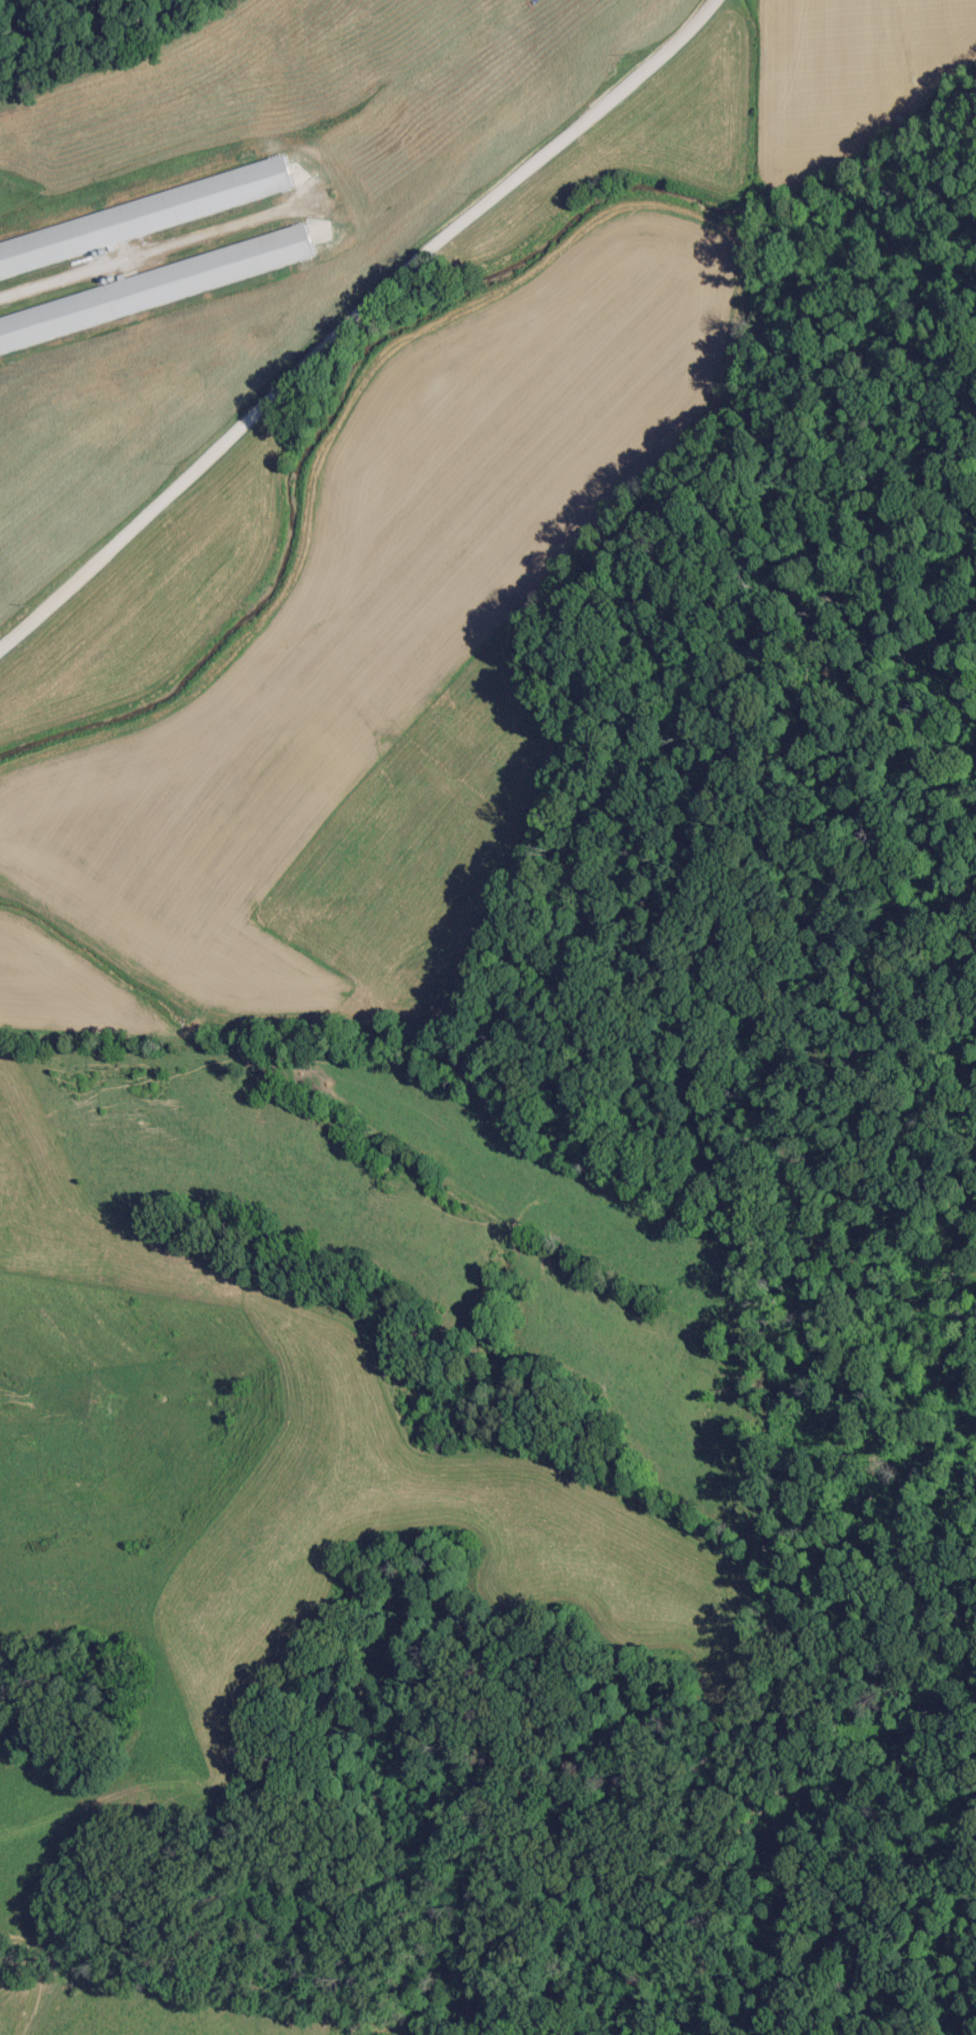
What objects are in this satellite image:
building: (540, 7)
building: (587, 45)
building: (145, 216)
building: (155, 288)
road: (349, 315)

